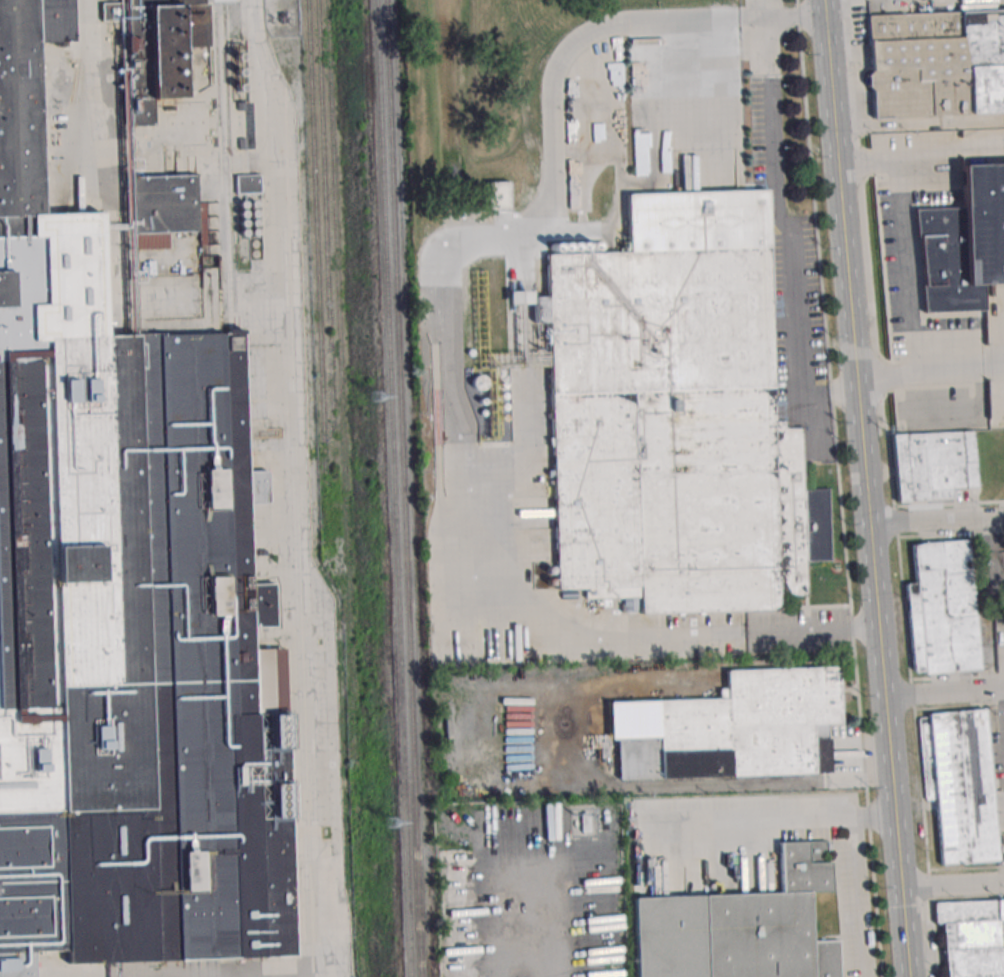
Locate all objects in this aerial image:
building: (155, 50)
building: (936, 62)
railway: (75, 79)
road: (917, 124)
railway: (229, 167)
railway: (220, 169)
building: (248, 183)
building: (163, 201)
railway: (324, 212)
building: (983, 220)
road: (781, 234)
railway: (316, 236)
road: (902, 236)
building: (519, 297)
road: (449, 347)
road: (928, 371)
power tower: (375, 396)
building: (674, 419)
building: (933, 464)
railway: (345, 488)
railway: (393, 488)
railway: (403, 488)
road: (863, 488)
road: (935, 524)
building: (124, 605)
building: (942, 608)
road: (945, 692)
road: (1002, 705)
building: (742, 731)
building: (959, 784)
road: (789, 818)
power tower: (390, 823)
road: (953, 883)
road: (862, 896)
building: (778, 921)
building: (973, 937)

